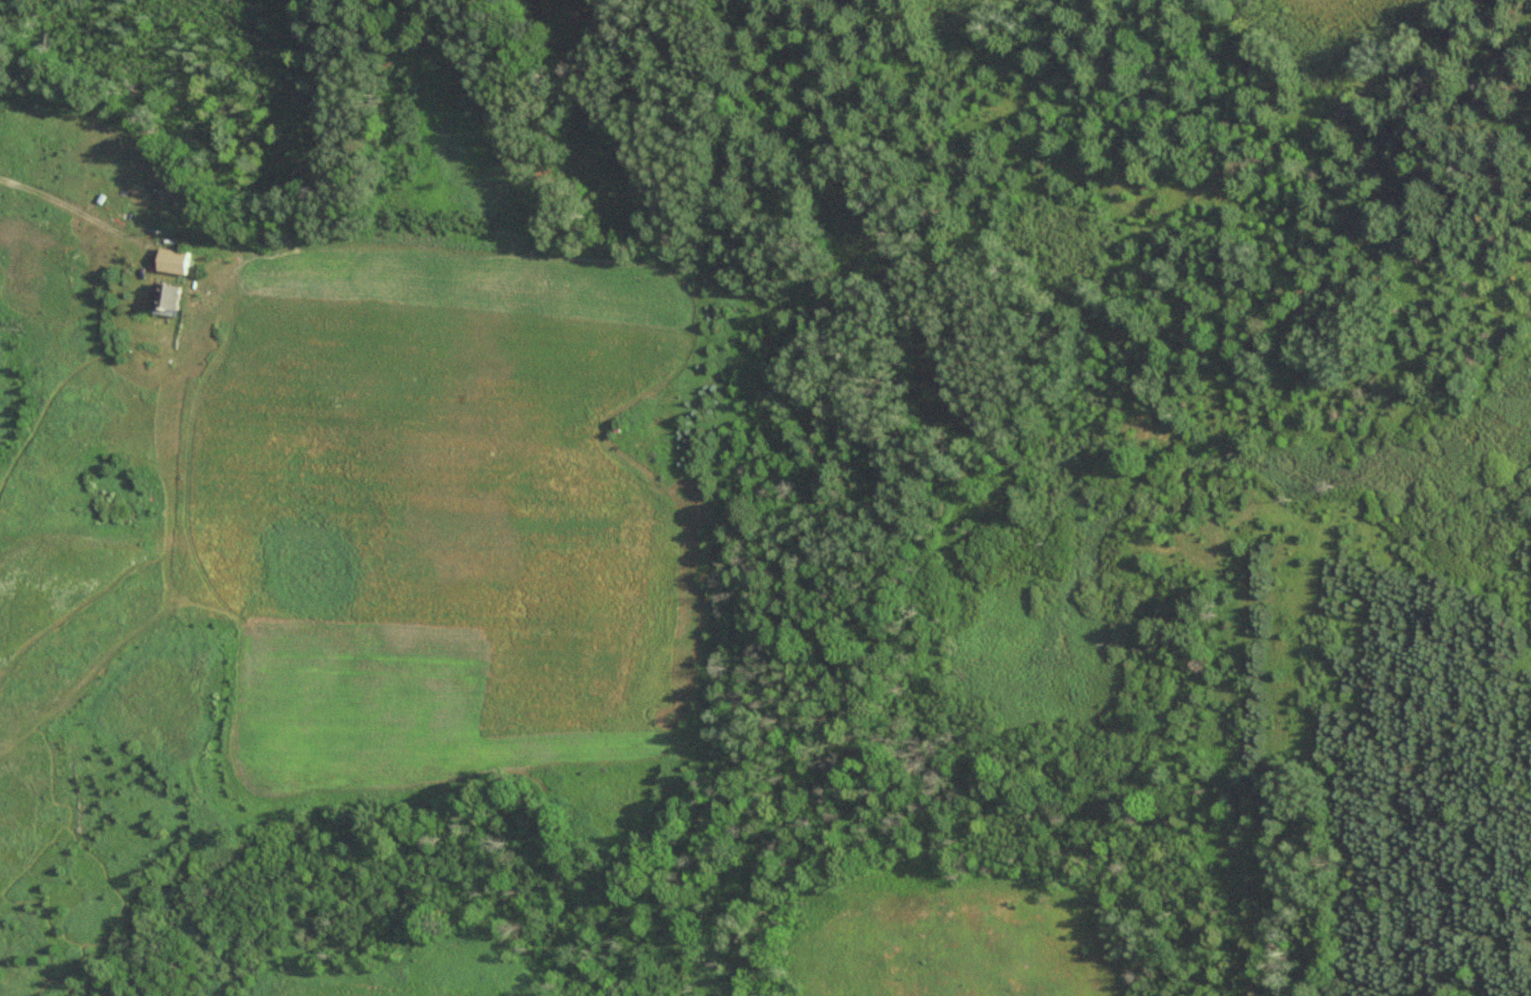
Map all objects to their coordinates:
building: (175, 298)

